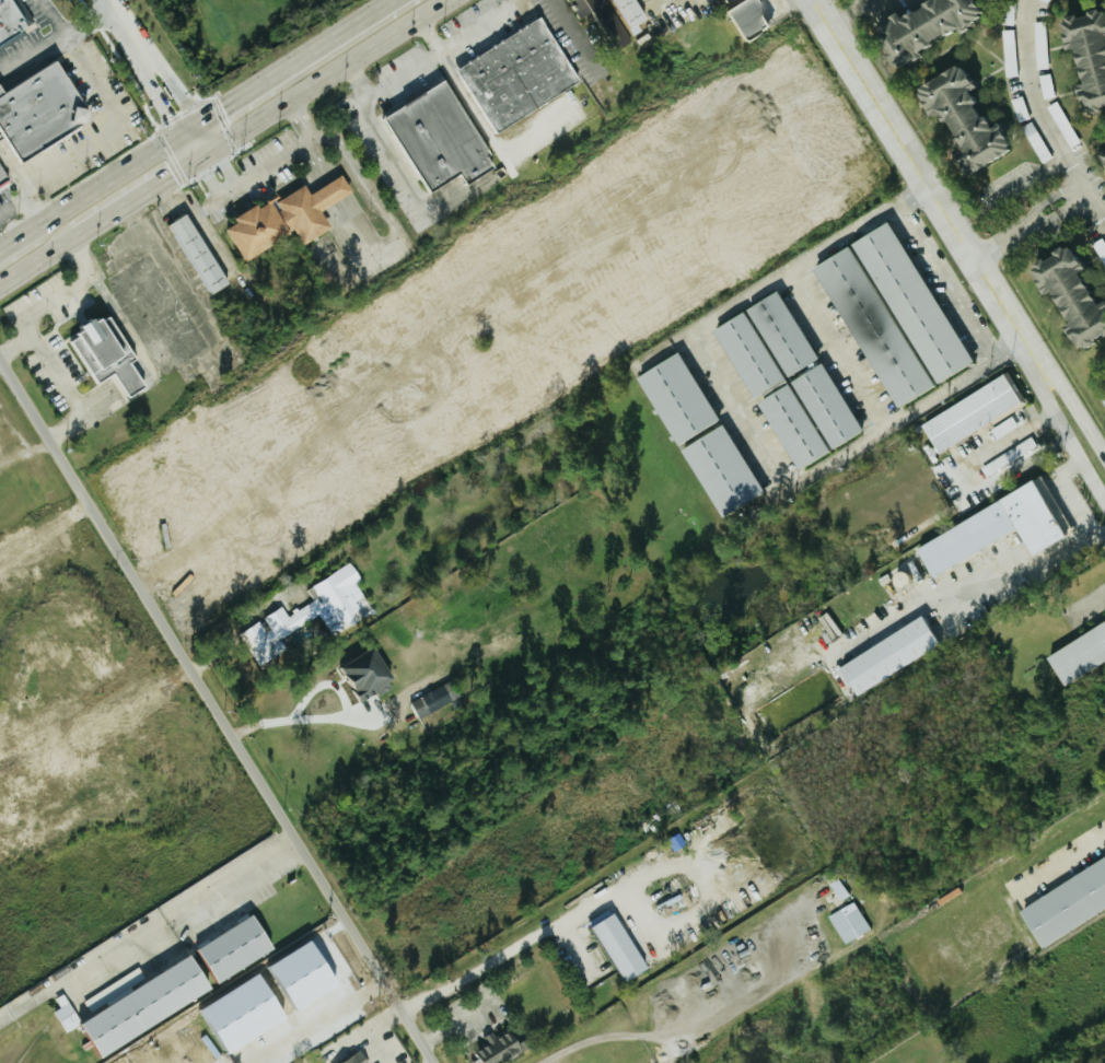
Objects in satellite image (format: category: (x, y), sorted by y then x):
road: (700, 0)
building: (1040, 1)
road: (859, 5)
road: (113, 9)
road: (839, 17)
road: (57, 19)
building: (603, 19)
building: (740, 19)
building: (13, 21)
building: (921, 25)
park: (229, 30)
road: (56, 44)
building: (1082, 58)
road: (295, 60)
road: (429, 63)
road: (330, 72)
road: (172, 75)
building: (509, 75)
road: (148, 77)
traffic signals: (226, 106)
traffic signals: (168, 110)
building: (40, 113)
road: (1051, 116)
road: (489, 117)
building: (954, 120)
road: (118, 129)
building: (431, 139)
road: (190, 144)
traffic signals: (225, 159)
road: (396, 159)
road: (228, 162)
road: (916, 166)
road: (11, 170)
road: (254, 170)
traffic signals: (173, 173)
road: (209, 174)
building: (2, 180)
road: (100, 185)
road: (146, 189)
road: (13, 200)
road: (1067, 200)
road: (33, 207)
building: (284, 219)
road: (1013, 234)
road: (161, 244)
road: (30, 245)
building: (198, 254)
road: (38, 259)
road: (949, 279)
building: (1063, 299)
building: (905, 303)
road: (44, 306)
building: (865, 327)
building: (776, 335)
road: (1020, 336)
road: (841, 347)
road: (1008, 347)
building: (107, 354)
road: (1037, 354)
building: (742, 355)
road: (1030, 359)
building: (1104, 374)
road: (63, 385)
road: (730, 396)
building: (671, 399)
building: (967, 413)
road: (1080, 414)
building: (803, 417)
road: (1012, 435)
road: (1071, 440)
building: (717, 471)
road: (1066, 492)
building: (987, 531)
road: (1020, 557)
road: (1089, 600)
building: (311, 614)
building: (1075, 653)
building: (882, 656)
building: (370, 674)
building: (435, 699)
road: (224, 705)
road: (326, 721)
road: (1058, 861)
building: (1063, 901)
road: (183, 902)
road: (14, 908)
building: (849, 922)
building: (619, 947)
building: (239, 948)
road: (493, 960)
building: (306, 973)
building: (115, 989)
road: (34, 997)
building: (147, 1007)
road: (323, 1012)
building: (244, 1015)
building: (68, 1017)
road: (457, 1020)
road: (372, 1028)
road: (676, 1029)
building: (497, 1049)
building: (358, 1059)
road: (434, 1061)

